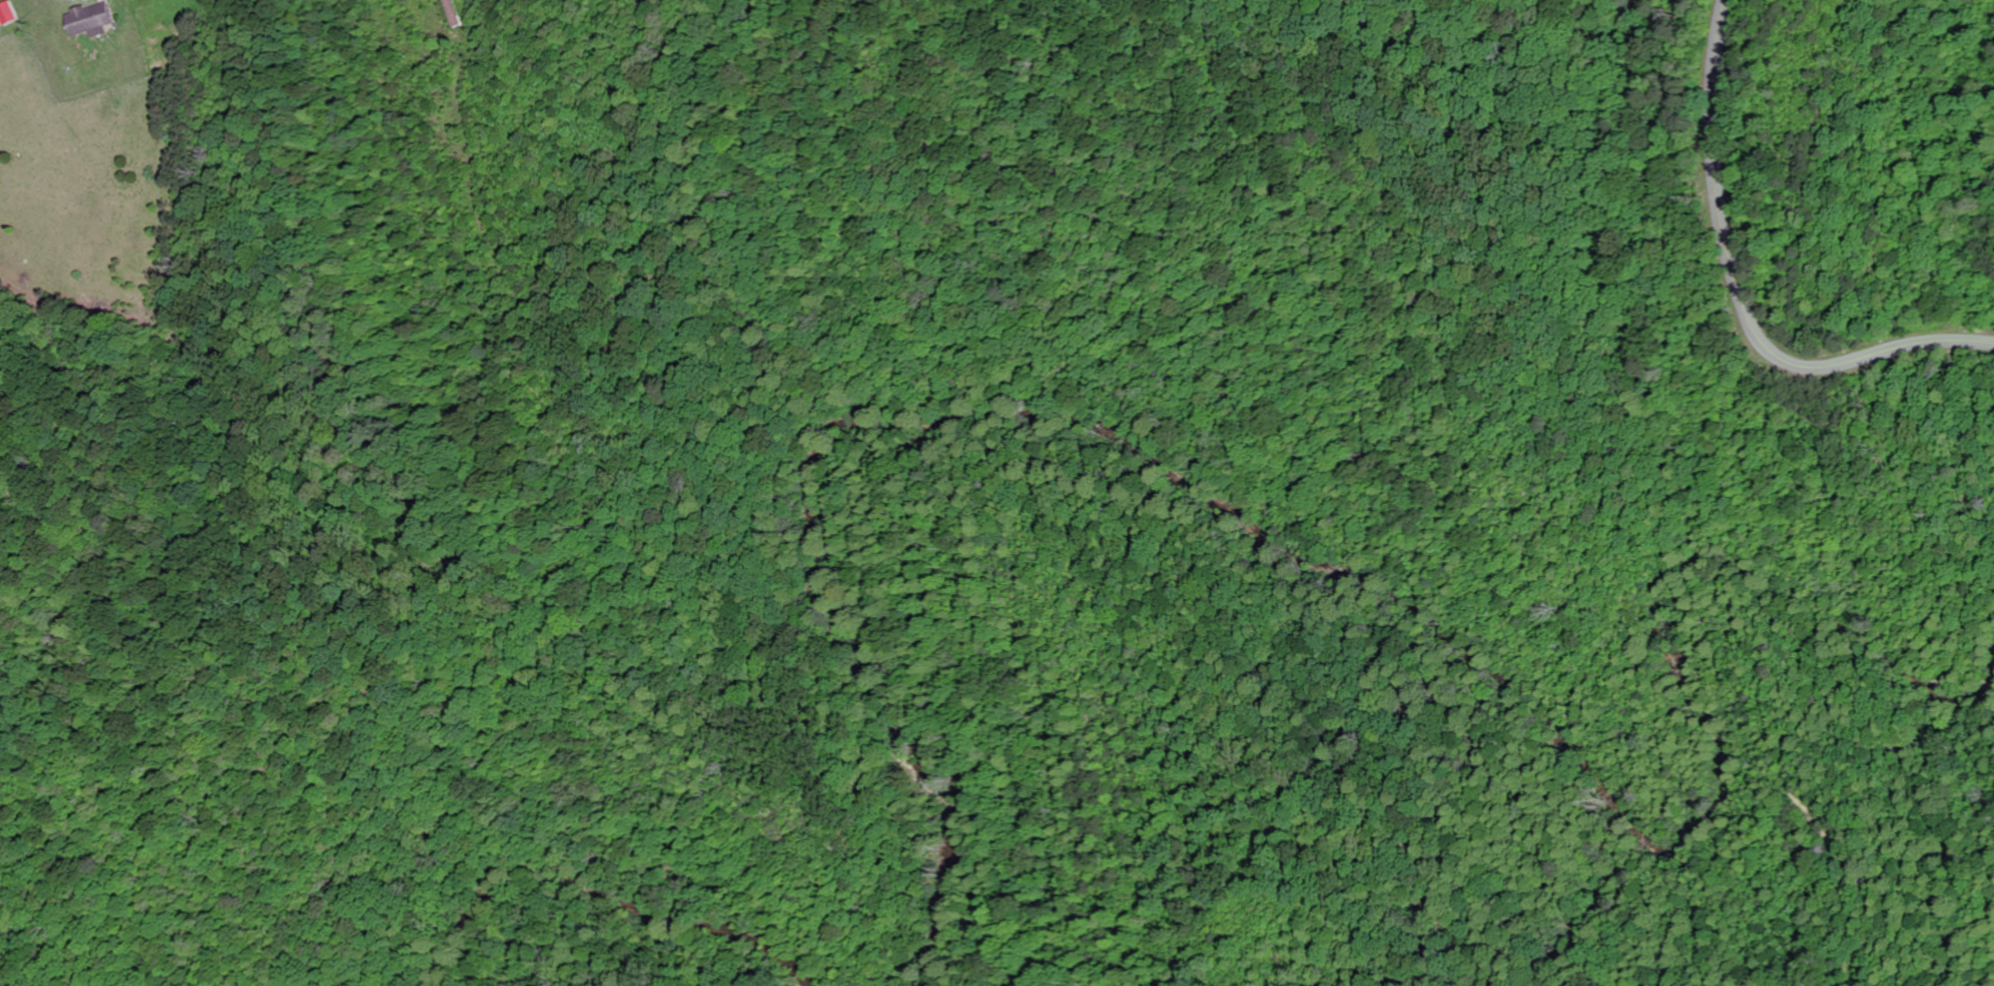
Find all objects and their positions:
building: (92, 21)
road: (1737, 292)

